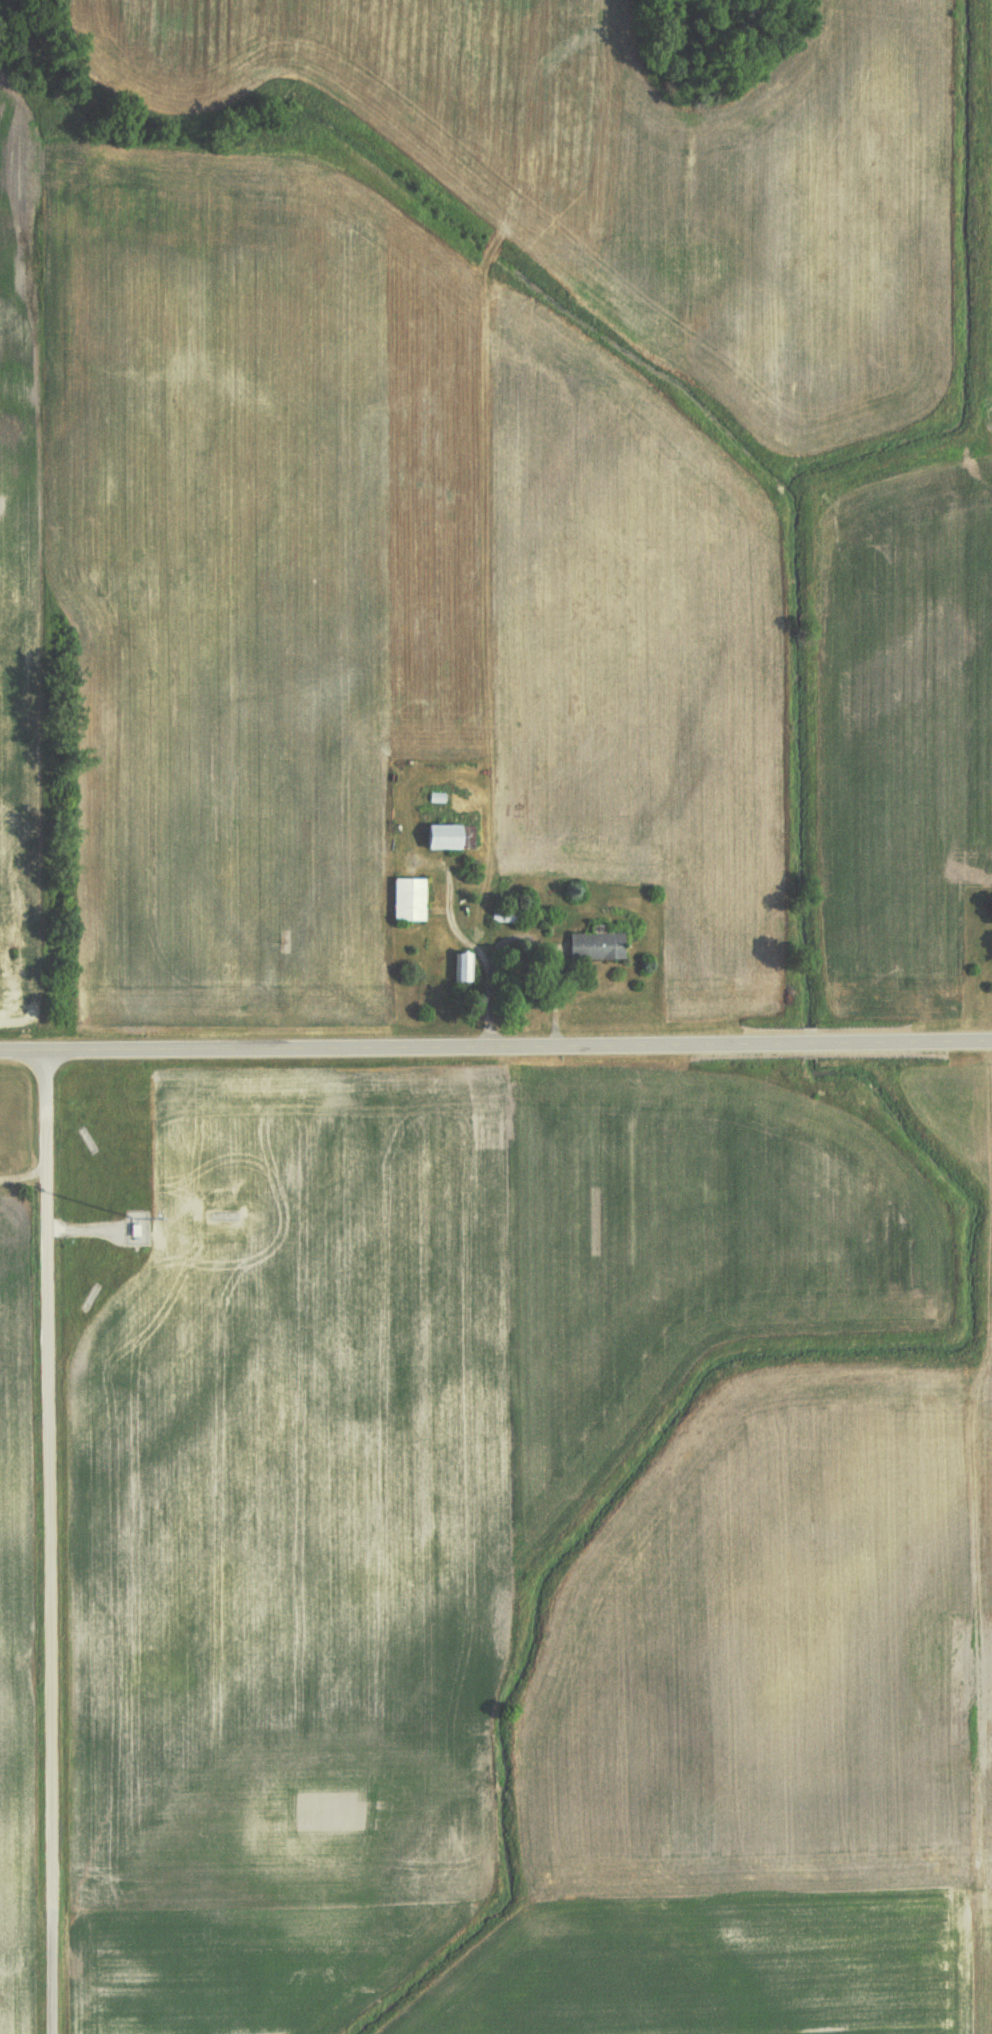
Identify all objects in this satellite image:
crop: (19, 601)
building: (445, 835)
building: (410, 898)
building: (597, 943)
road: (496, 1048)
road: (51, 1478)
crop: (392, 1487)
crop: (13, 1625)
crop: (771, 1742)
road: (51, 1969)

